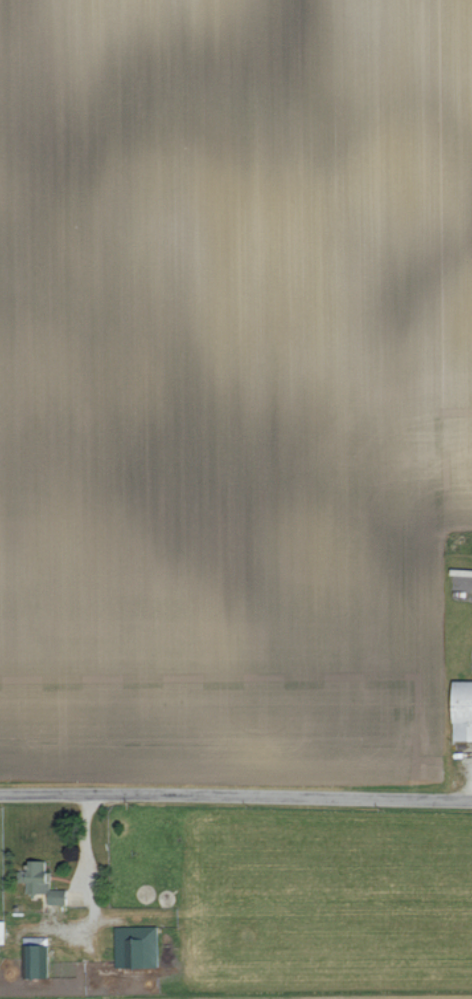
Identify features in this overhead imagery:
road: (236, 795)
building: (33, 876)
building: (0, 929)

